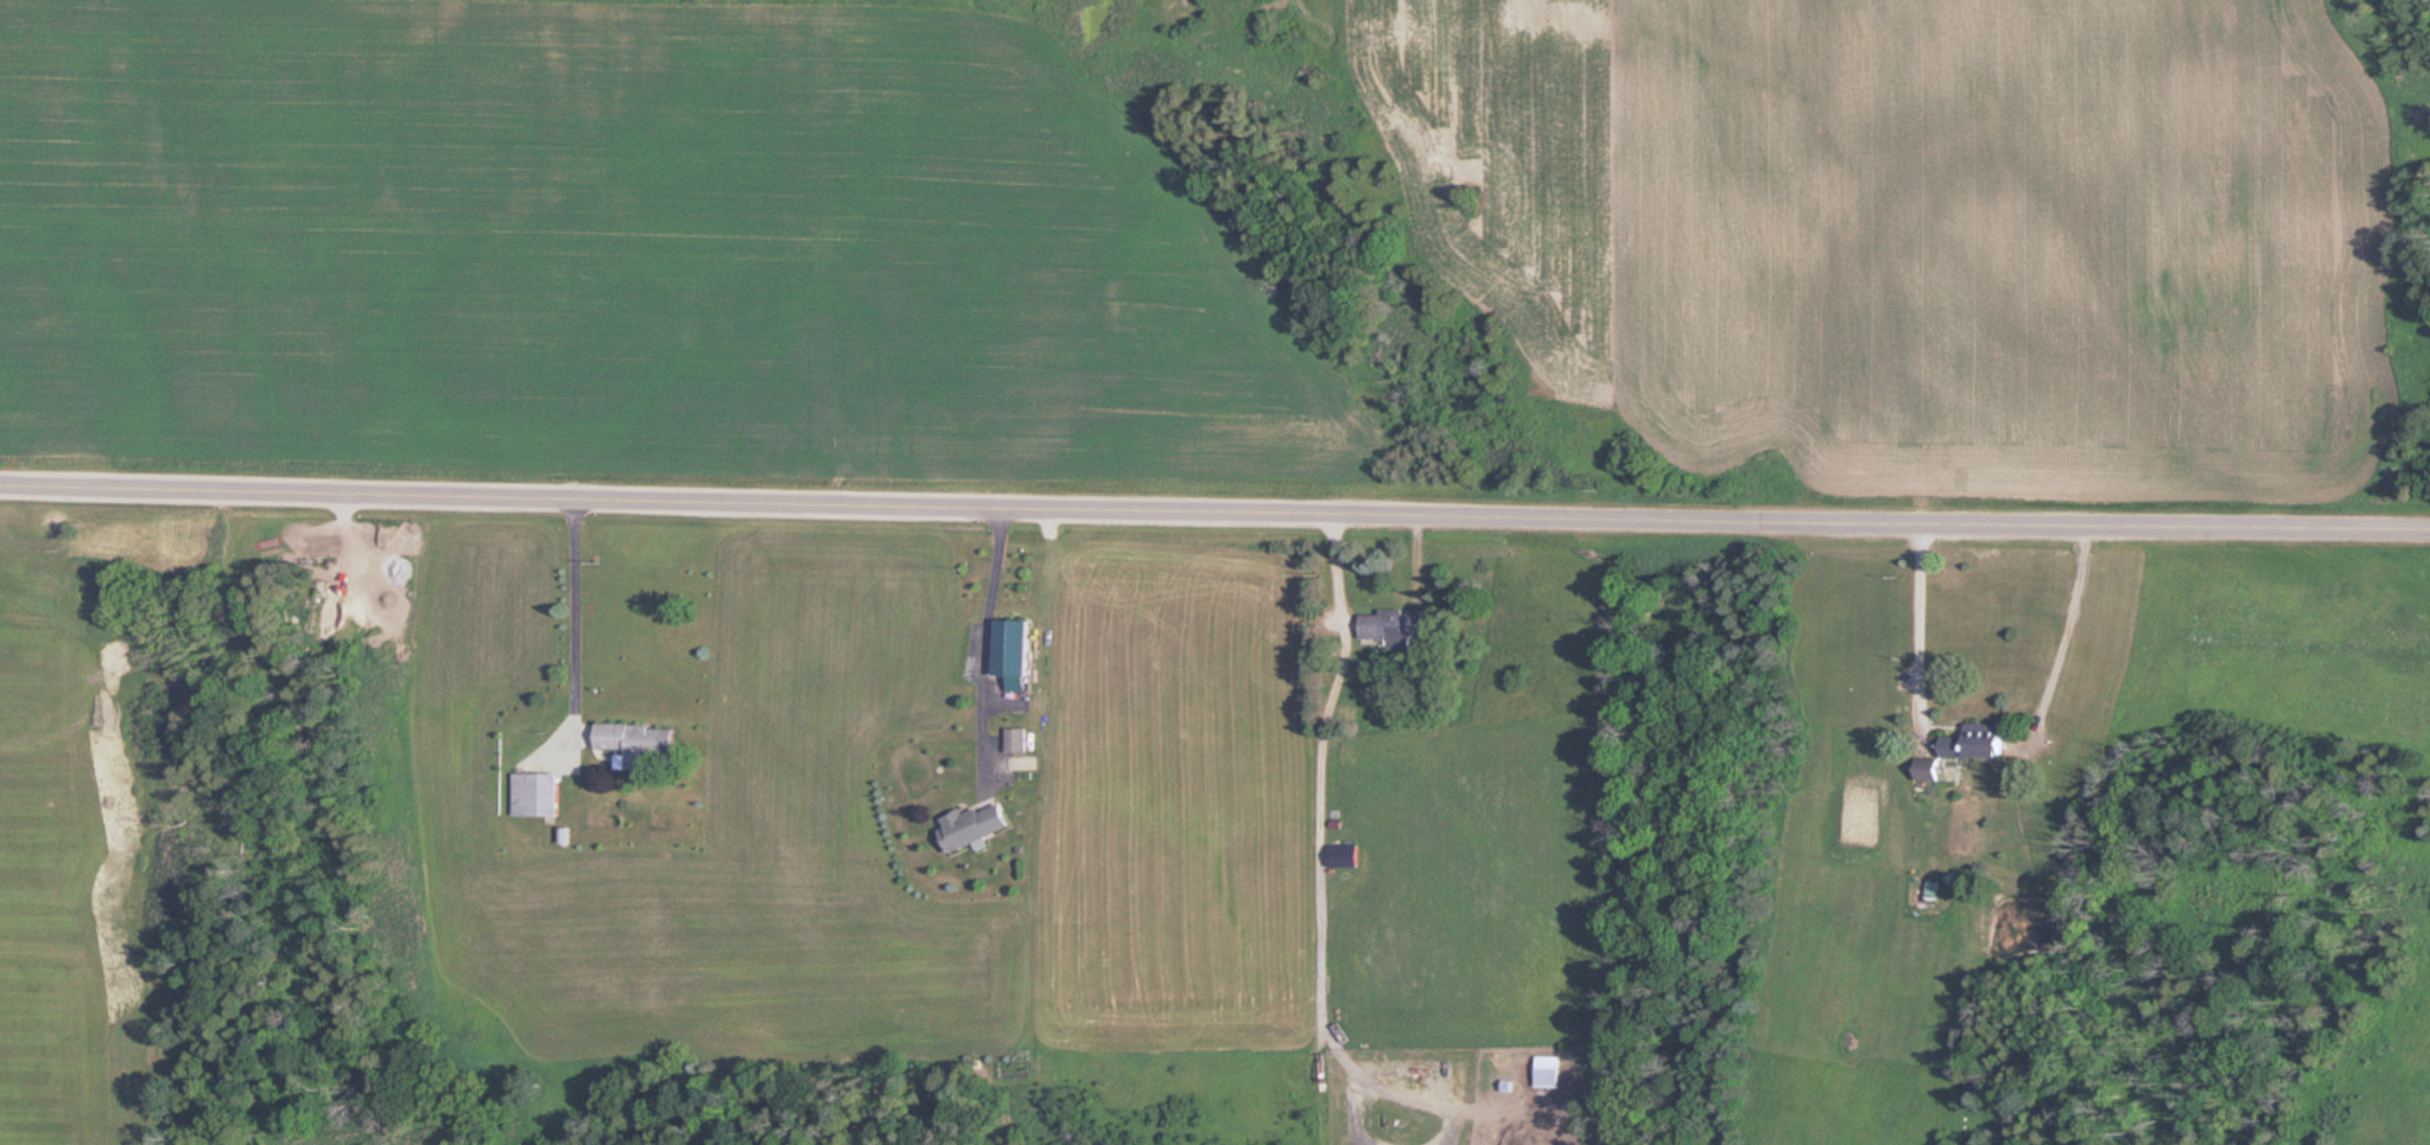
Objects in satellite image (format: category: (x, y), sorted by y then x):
road: (1214, 509)
building: (1400, 629)
building: (1016, 647)
building: (1021, 739)
building: (1980, 742)
building: (641, 744)
building: (533, 795)
building: (981, 826)
building: (1349, 857)
building: (1936, 892)
building: (1553, 1073)

